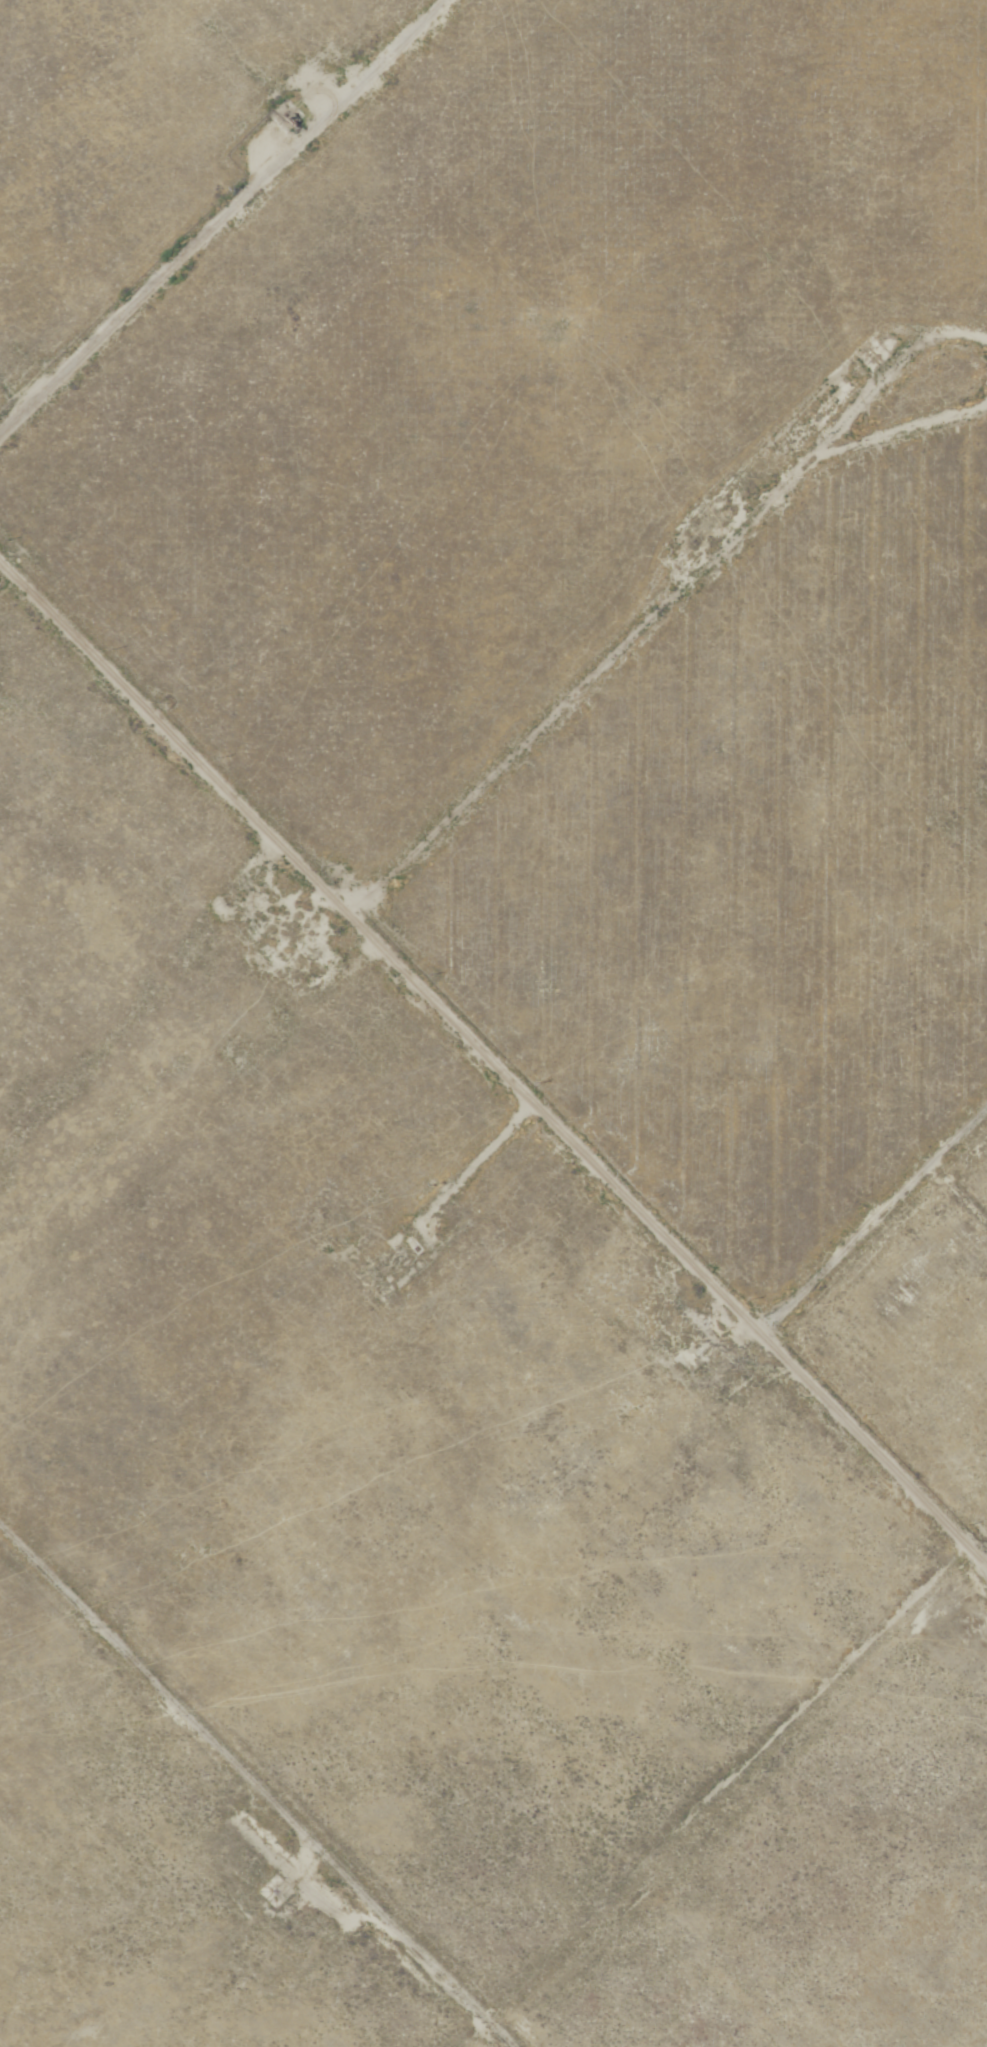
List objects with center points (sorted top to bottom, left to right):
road: (215, 208)
road: (494, 1065)
road: (871, 1216)
road: (251, 1790)

